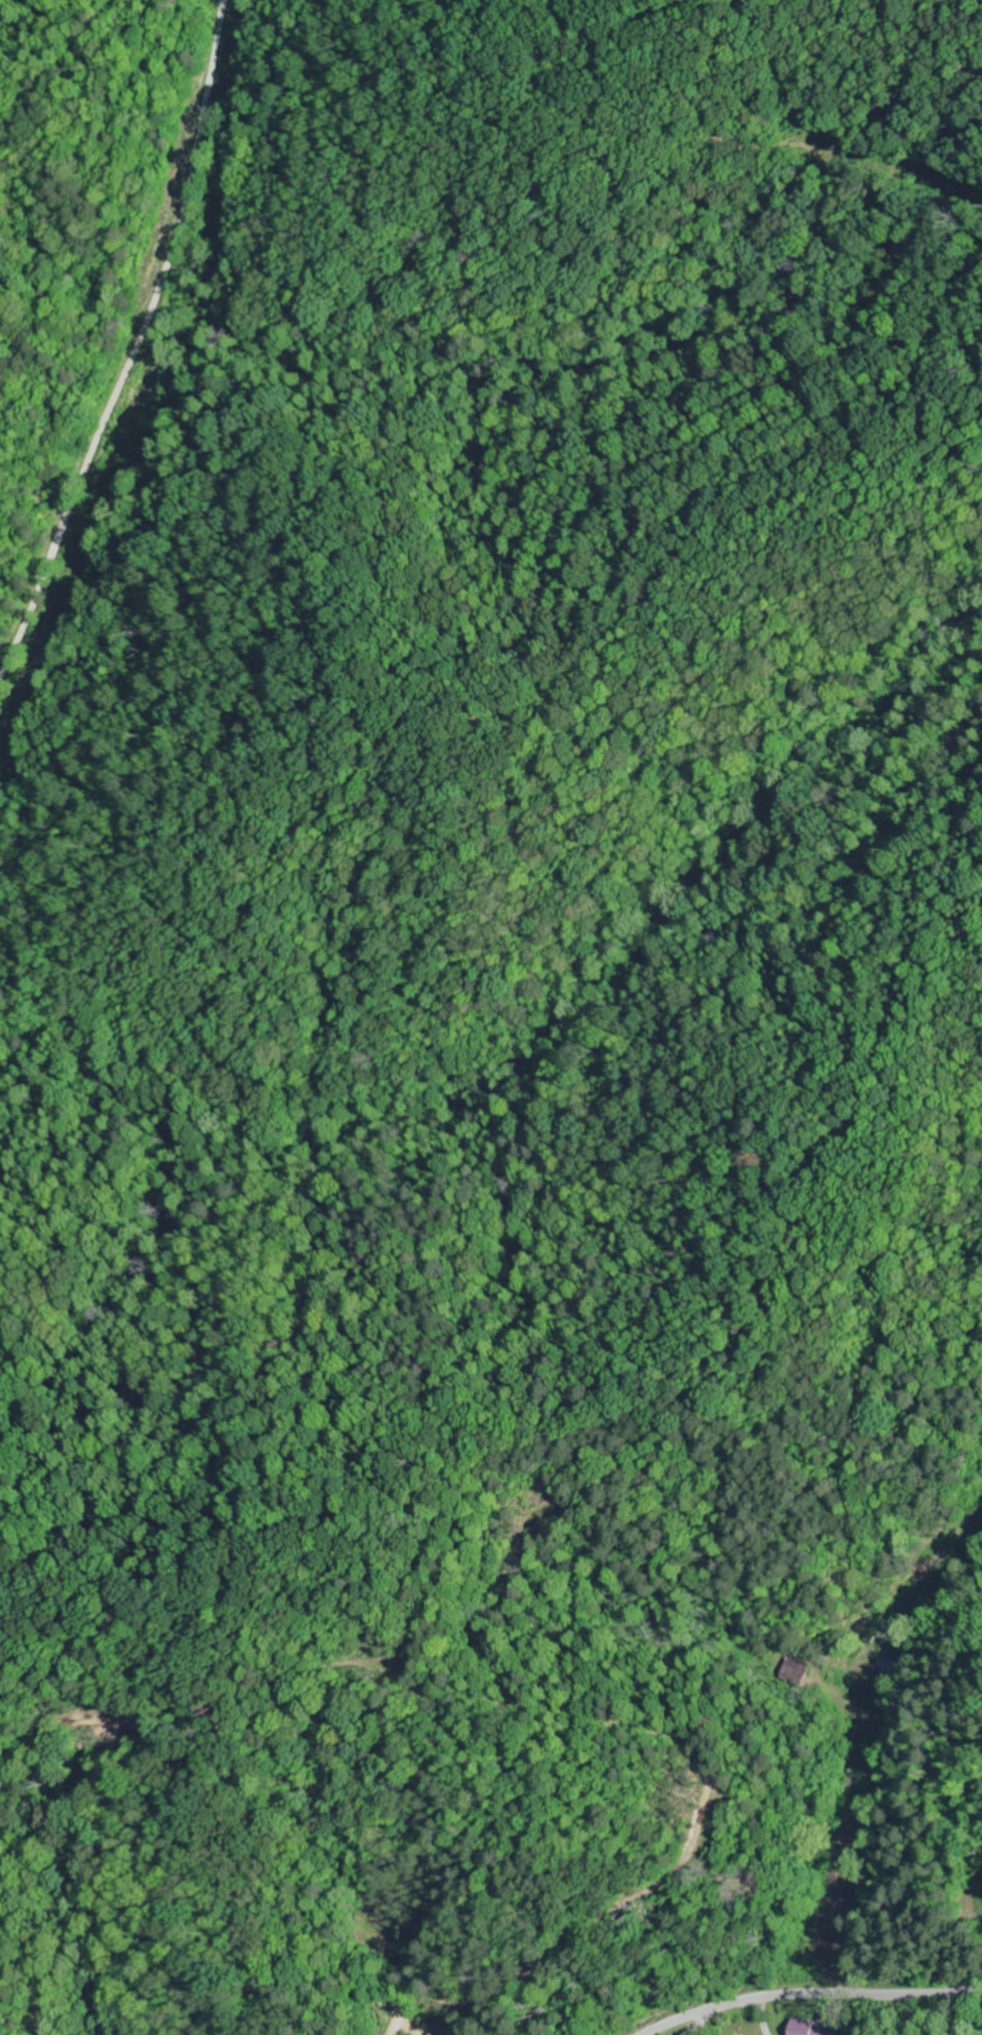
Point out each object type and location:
road: (136, 345)
building: (796, 1672)
park: (975, 1876)
road: (973, 1910)
road: (813, 1991)
building: (808, 2028)

